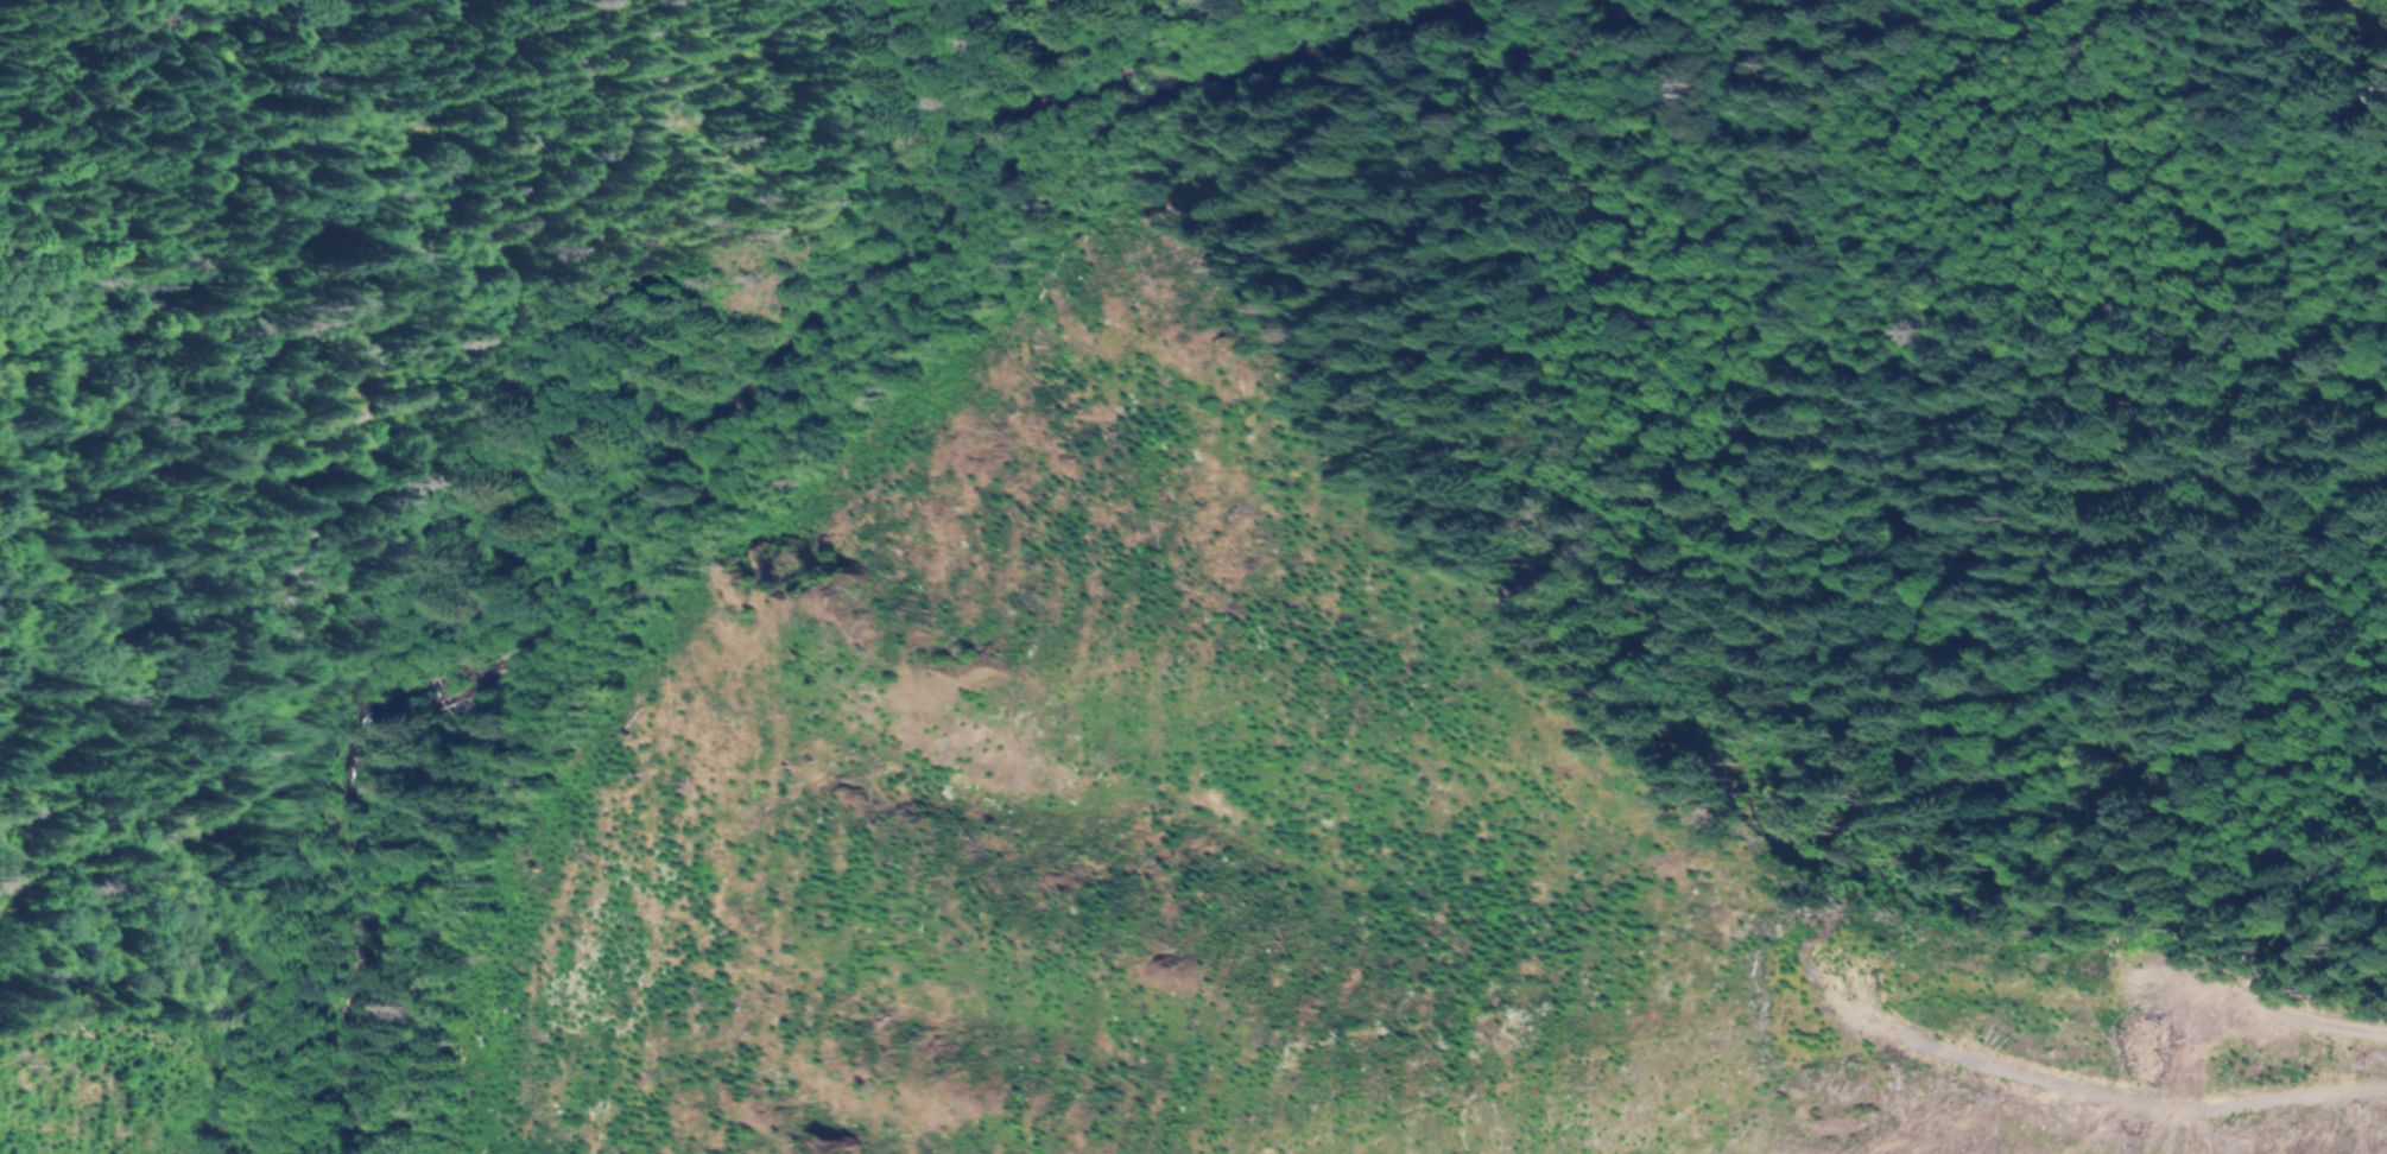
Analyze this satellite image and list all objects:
road: (2284, 1006)

